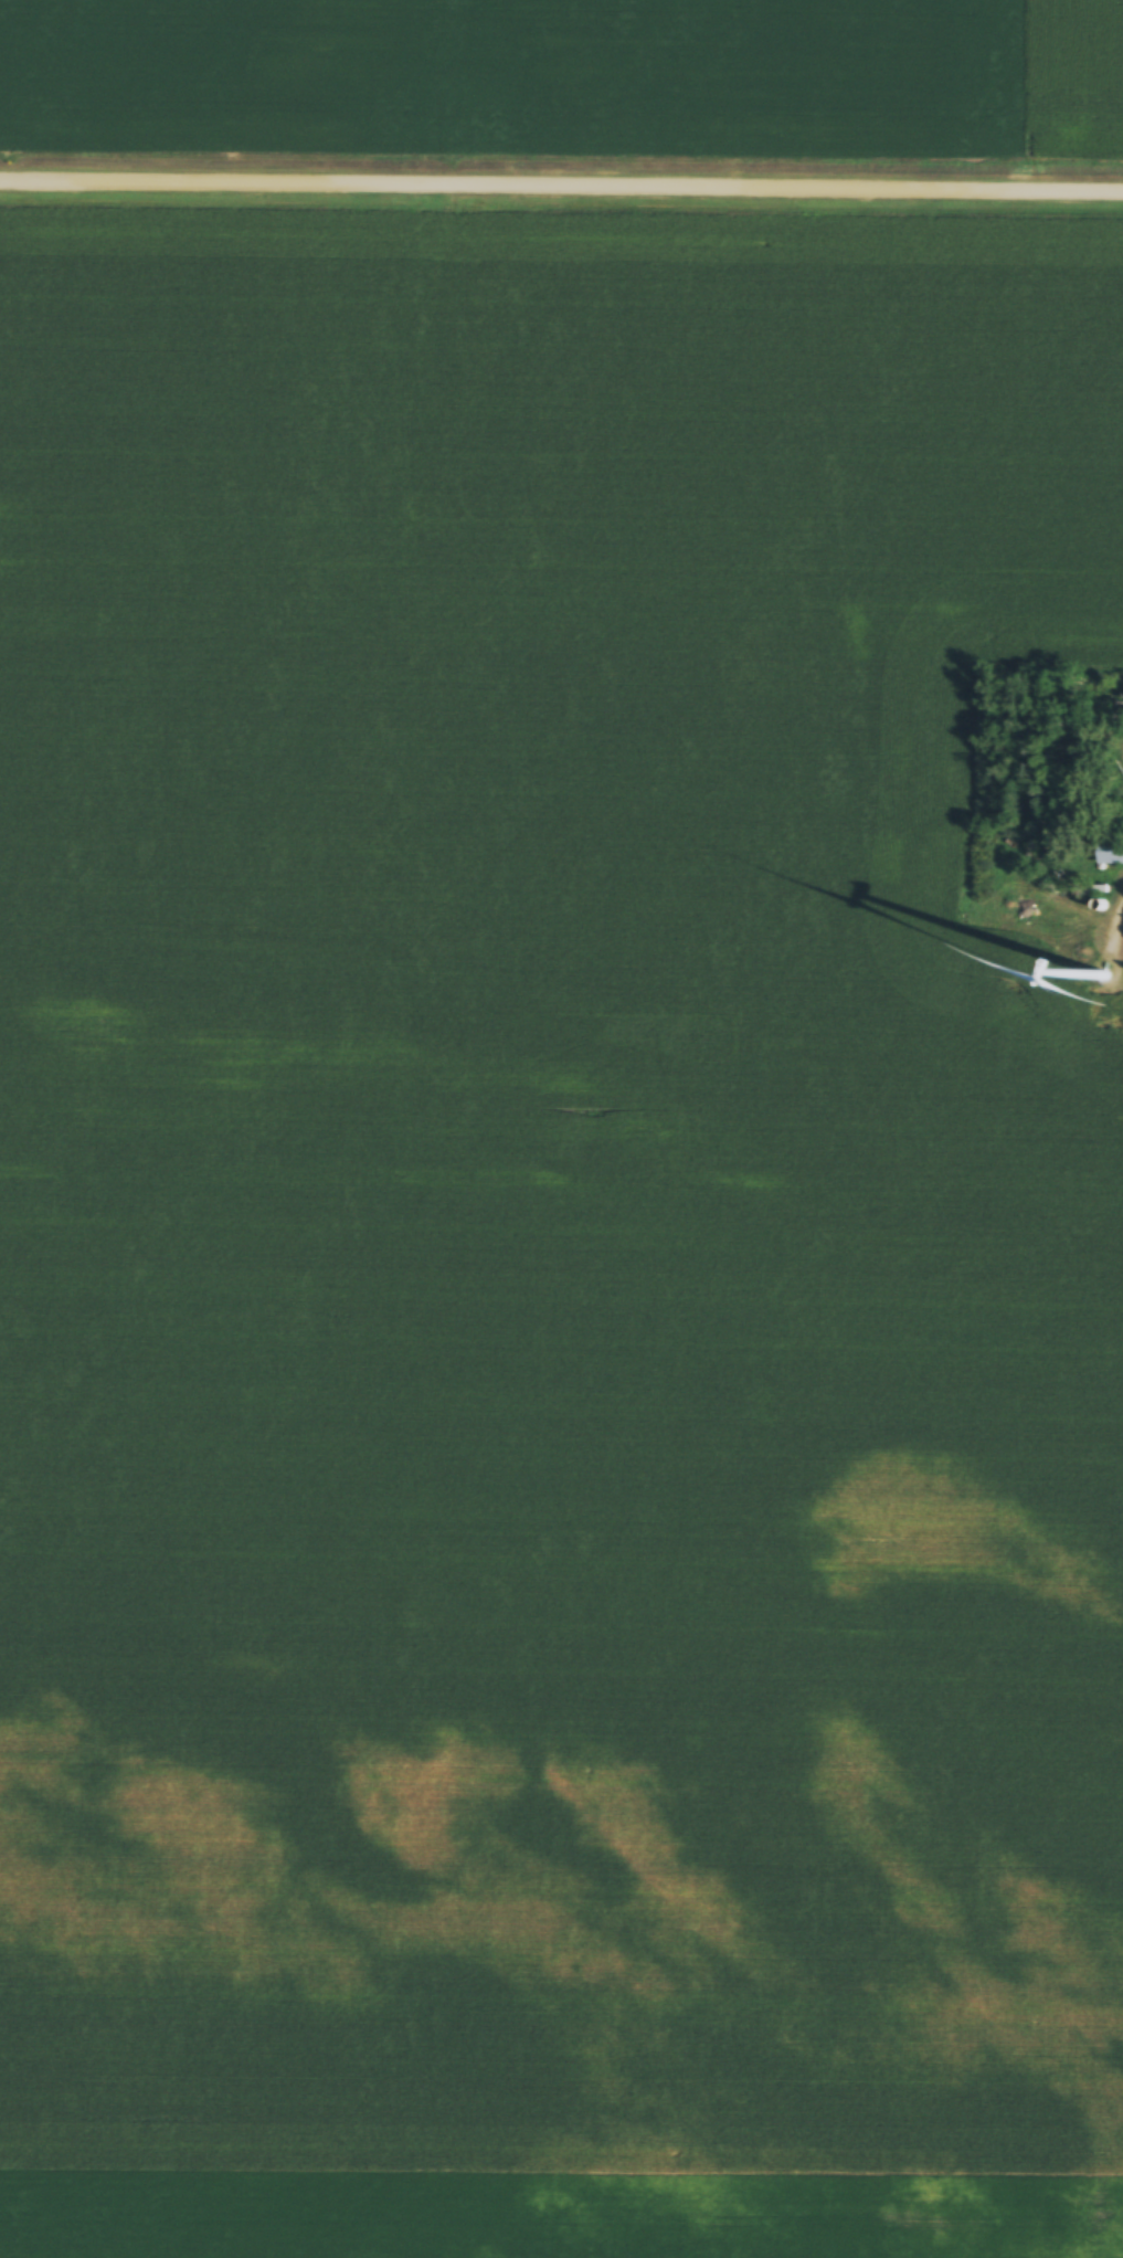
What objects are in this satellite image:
road: (561, 187)
building: (1110, 853)
wind turbine: (1102, 962)

